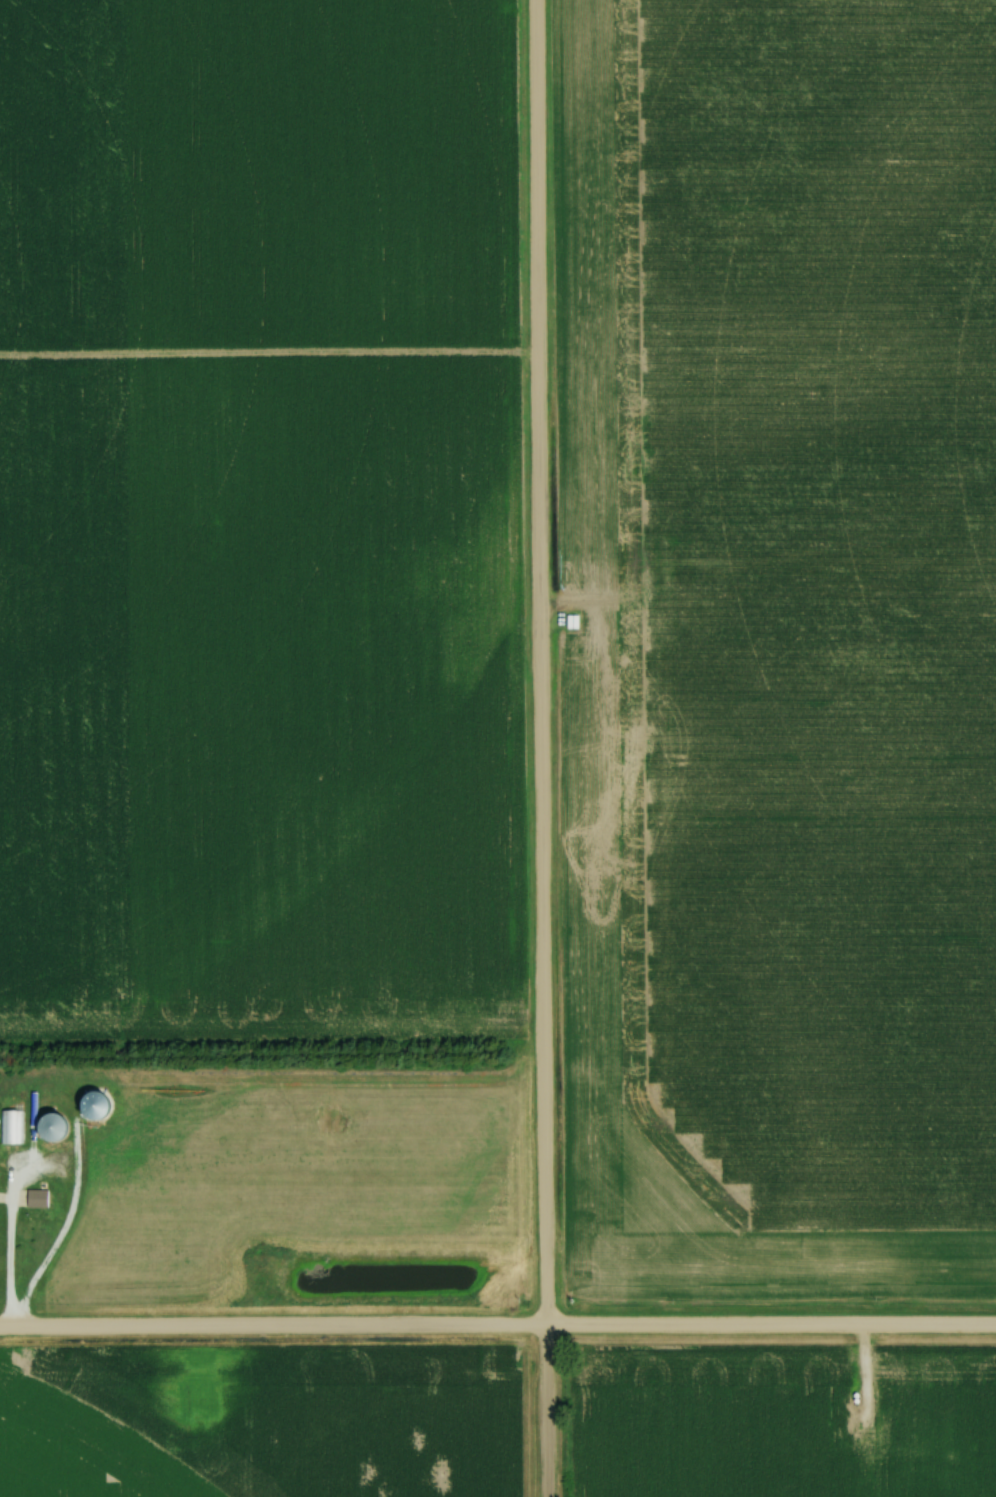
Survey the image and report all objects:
road: (539, 748)
building: (12, 1126)
building: (54, 1126)
building: (38, 1197)
road: (8, 1252)
road: (498, 1328)

